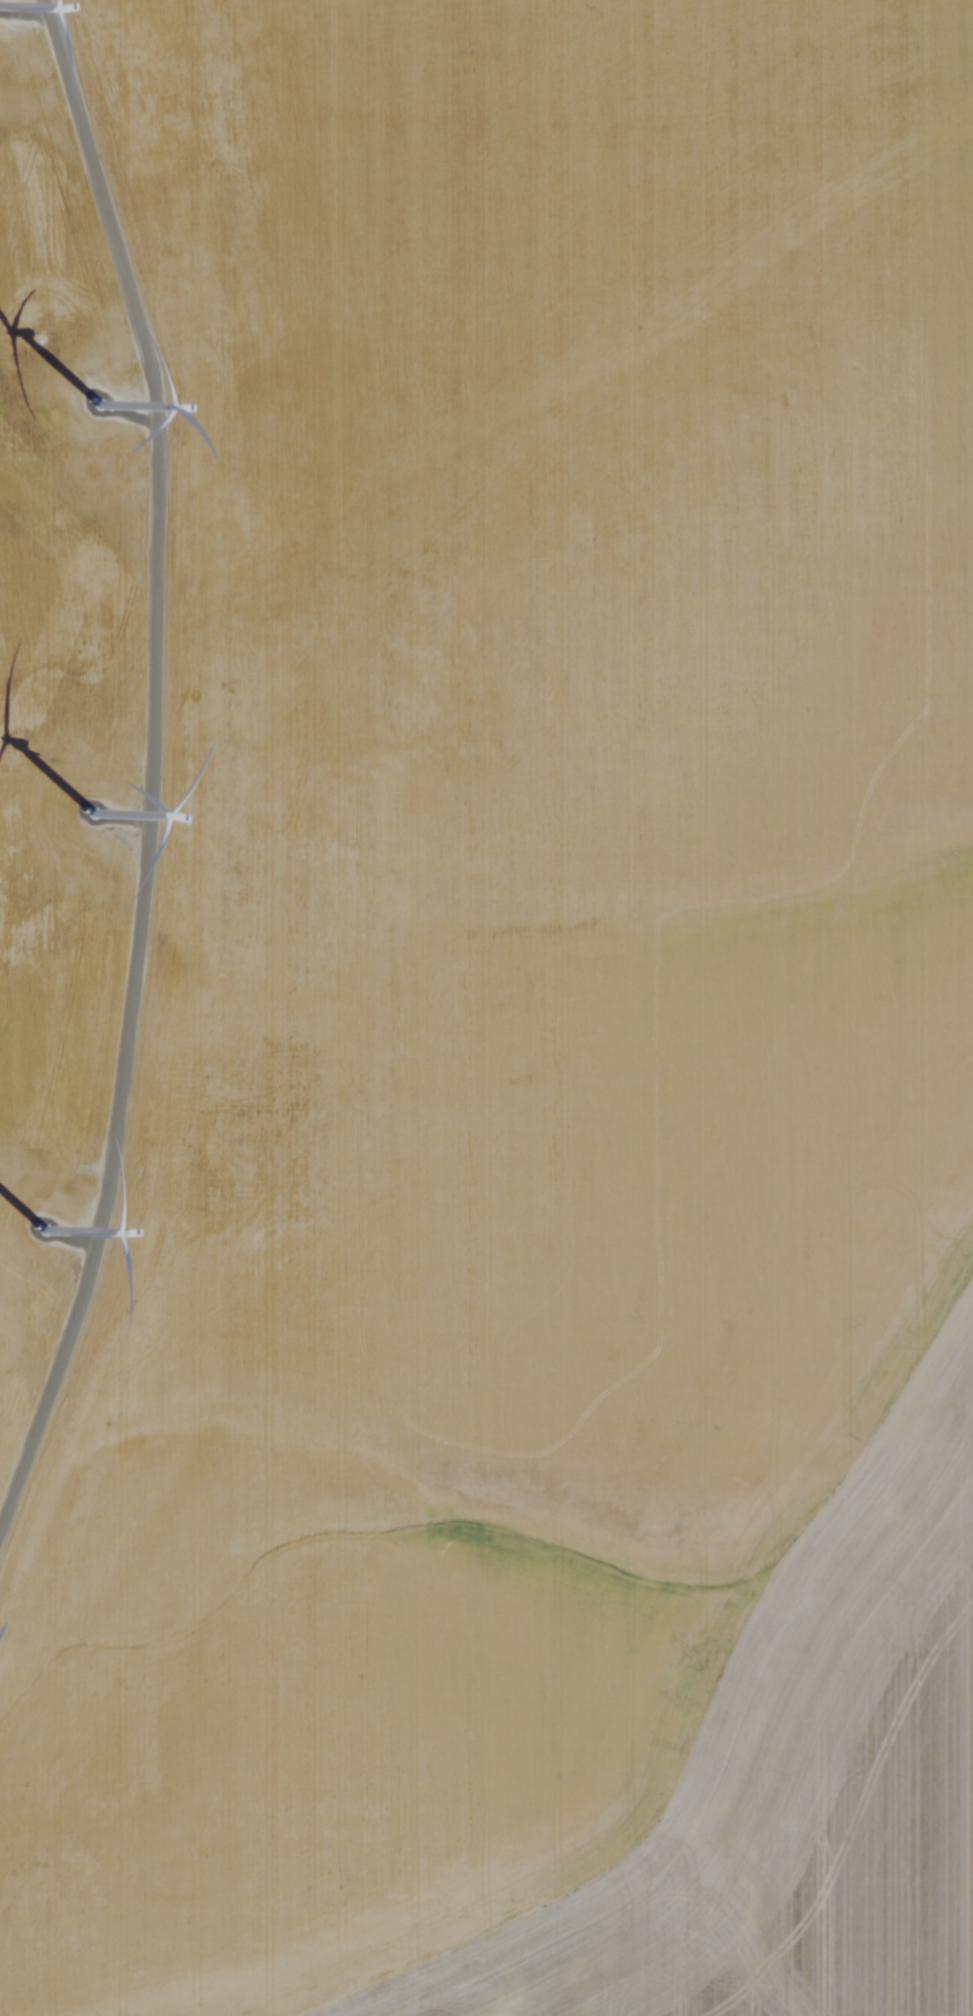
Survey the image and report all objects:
wind turbine: (86, 419)
road: (143, 752)
wind turbine: (109, 815)
wind turbine: (36, 1252)

